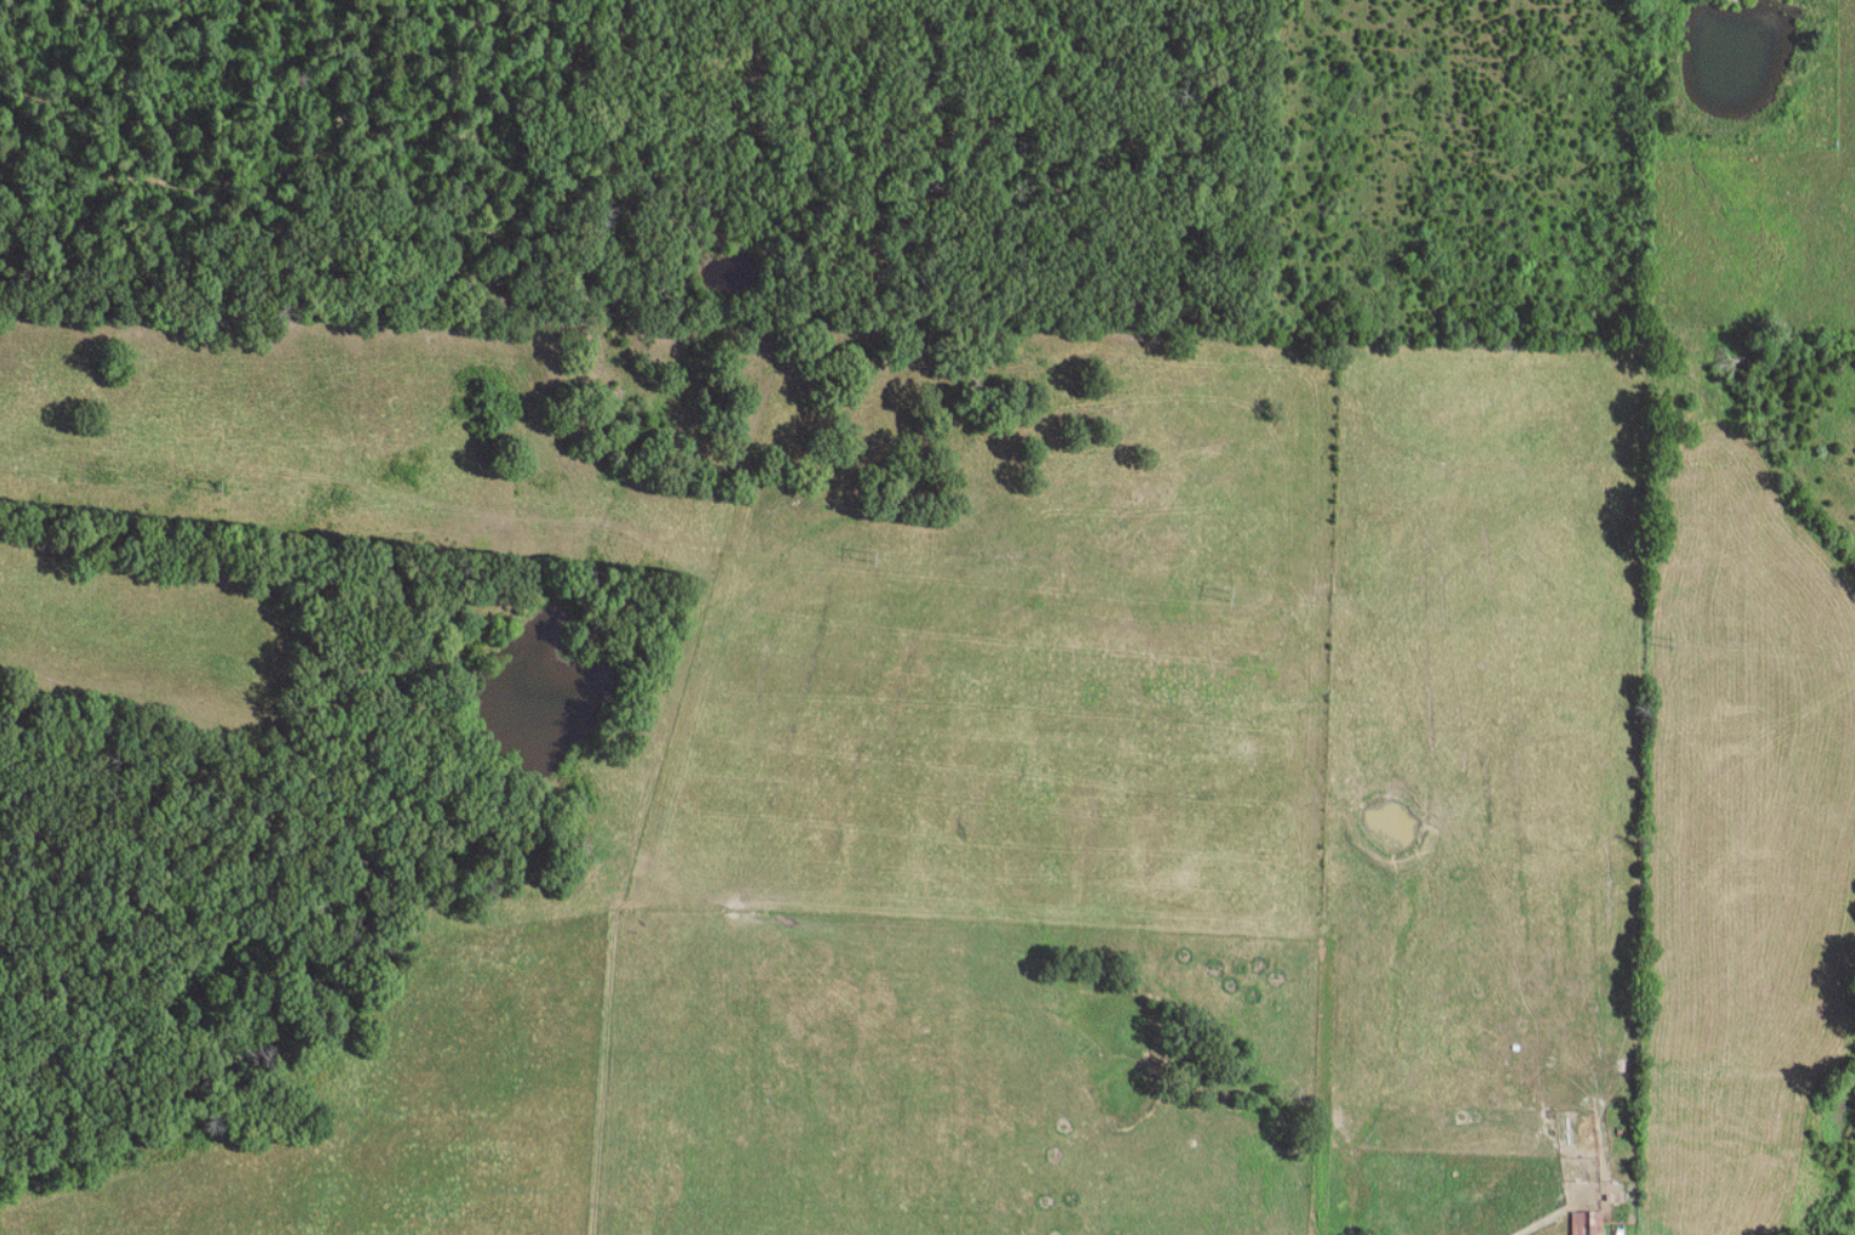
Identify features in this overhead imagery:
building: (1587, 1223)

